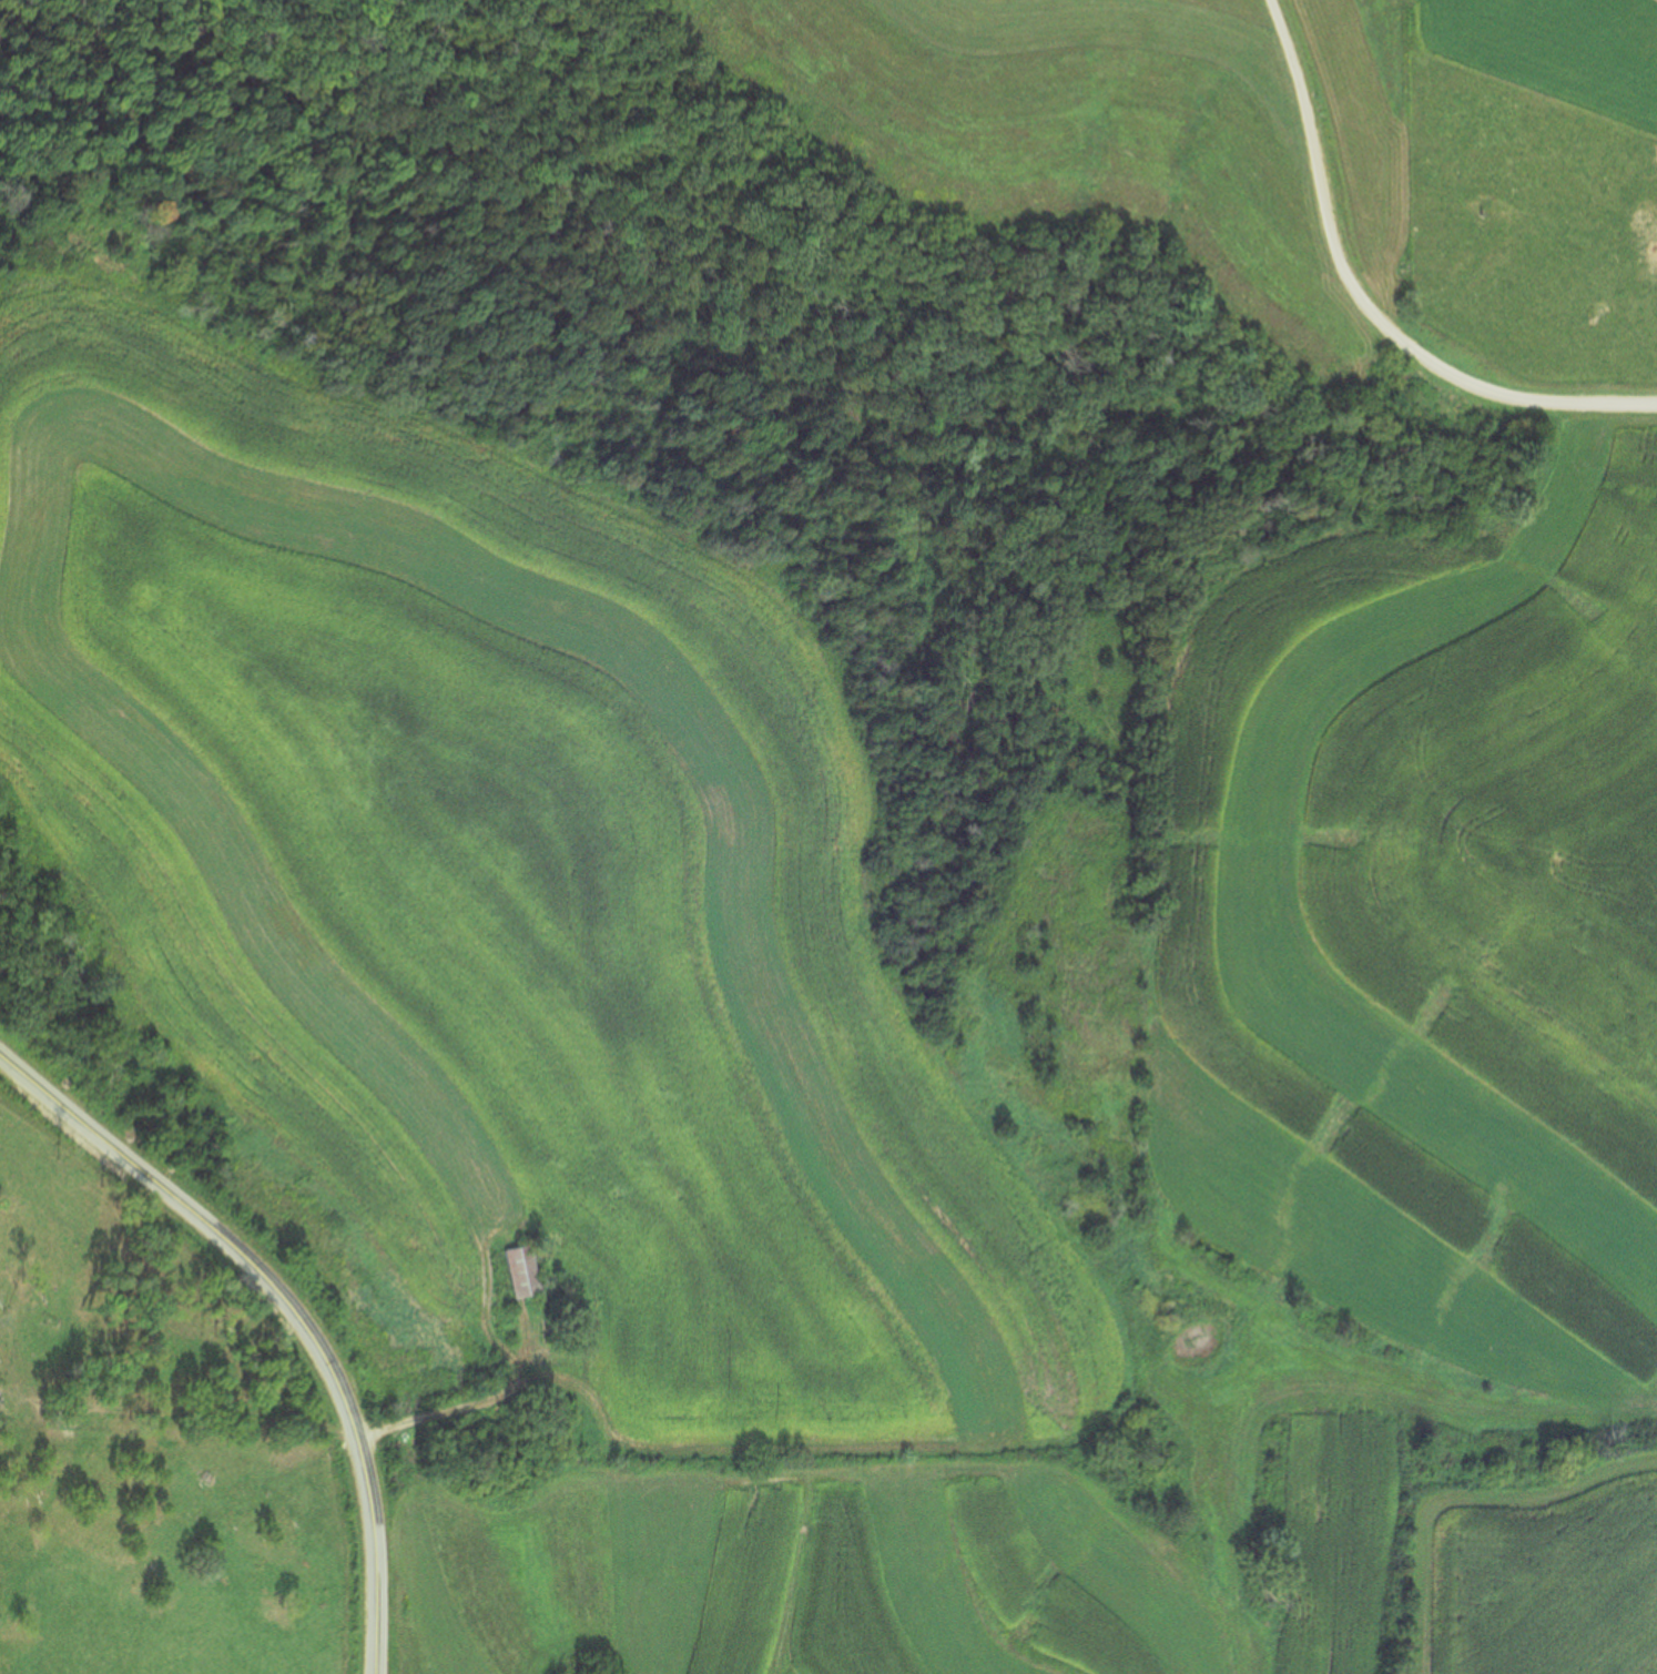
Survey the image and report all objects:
road: (1359, 312)
building: (519, 1270)
road: (283, 1313)
road: (430, 1413)

